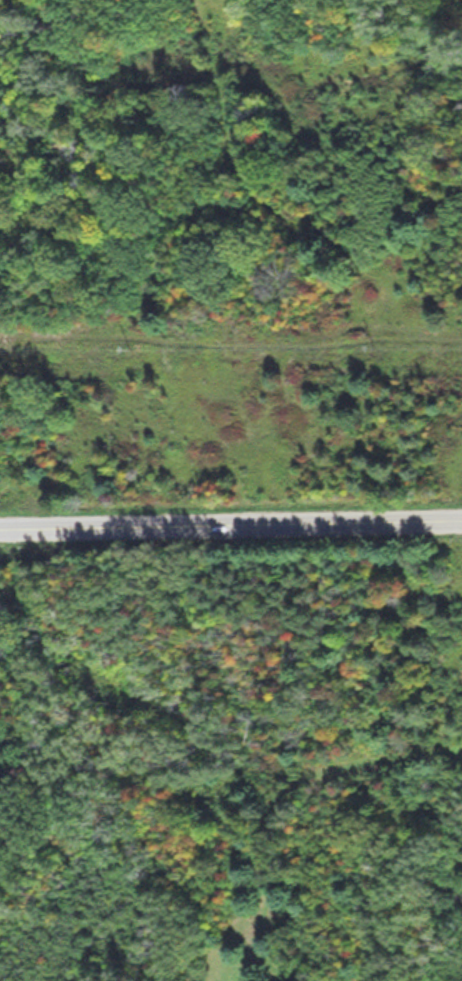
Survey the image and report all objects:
road: (231, 522)

